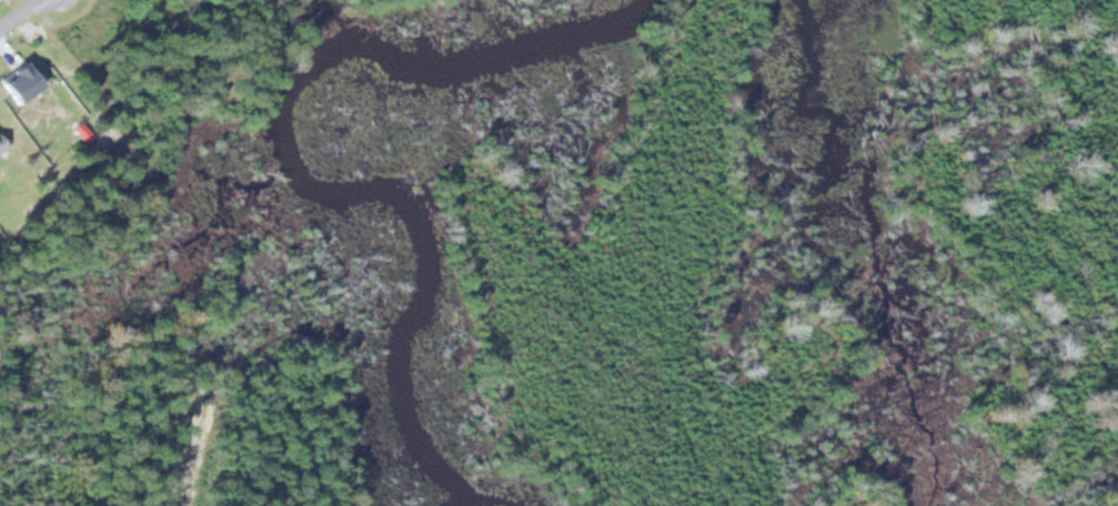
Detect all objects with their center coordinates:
road: (8, 11)
building: (0, 144)

